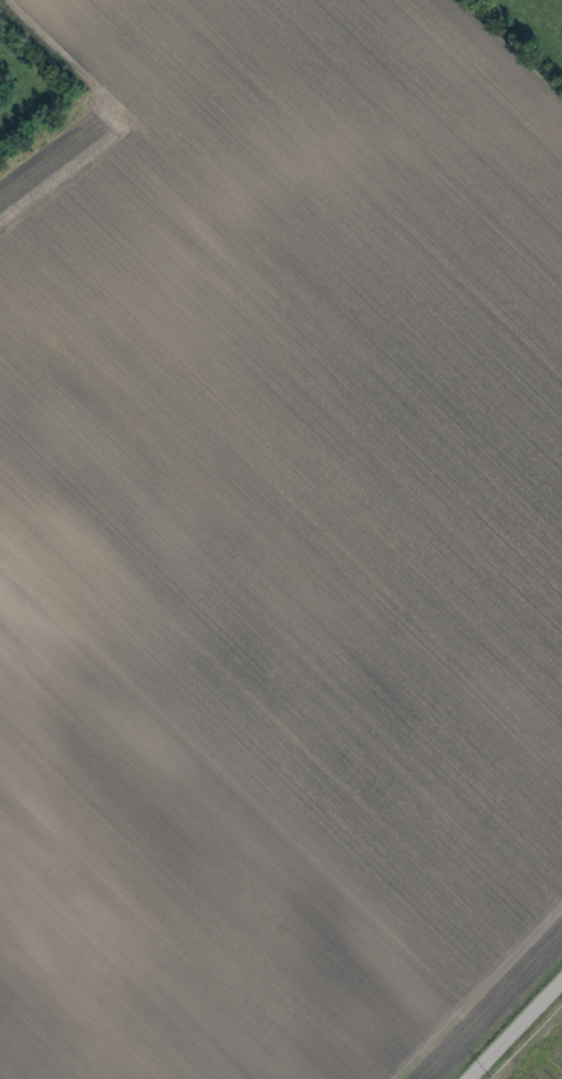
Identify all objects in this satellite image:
road: (514, 1029)

